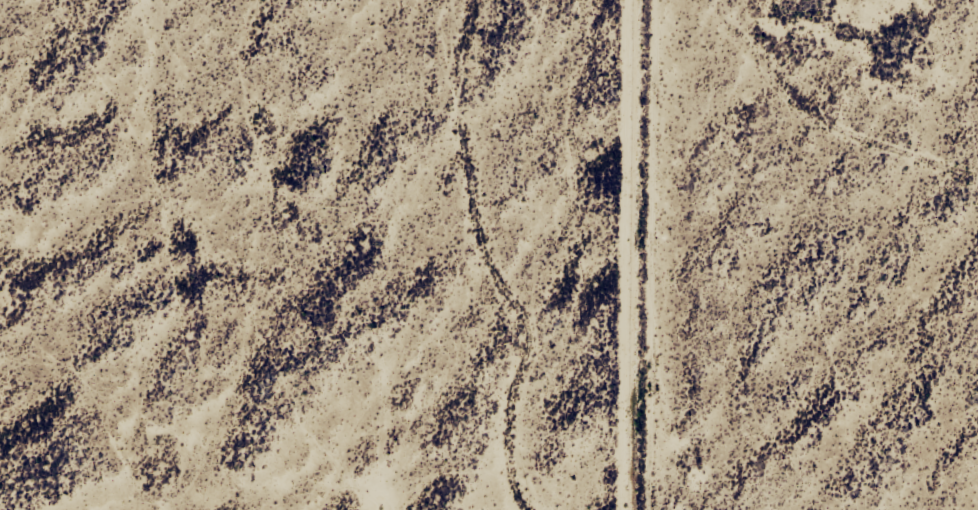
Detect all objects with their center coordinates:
road: (624, 255)

